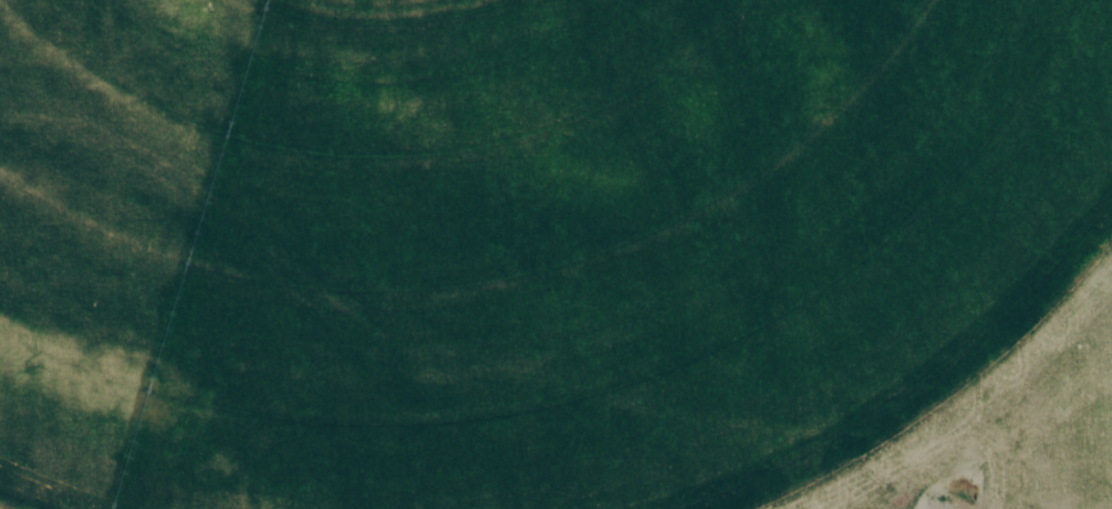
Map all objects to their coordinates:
crop: (536, 246)

